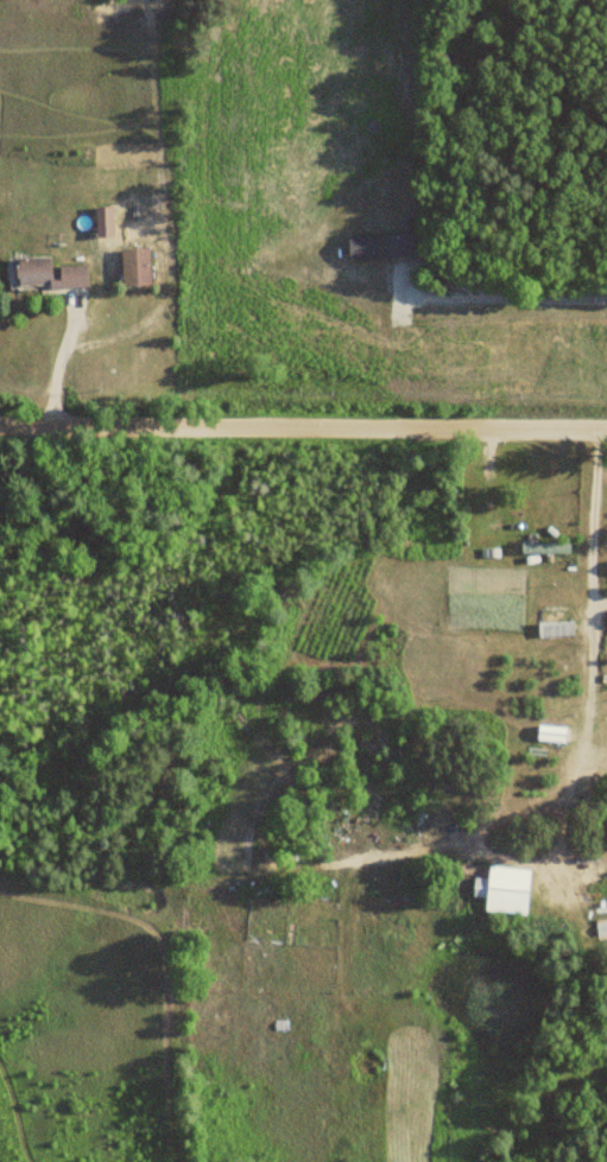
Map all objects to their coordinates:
building: (133, 267)
building: (45, 274)
road: (404, 277)
road: (543, 297)
road: (303, 423)
building: (546, 548)
road: (592, 590)
building: (556, 623)
building: (551, 735)
building: (502, 890)

